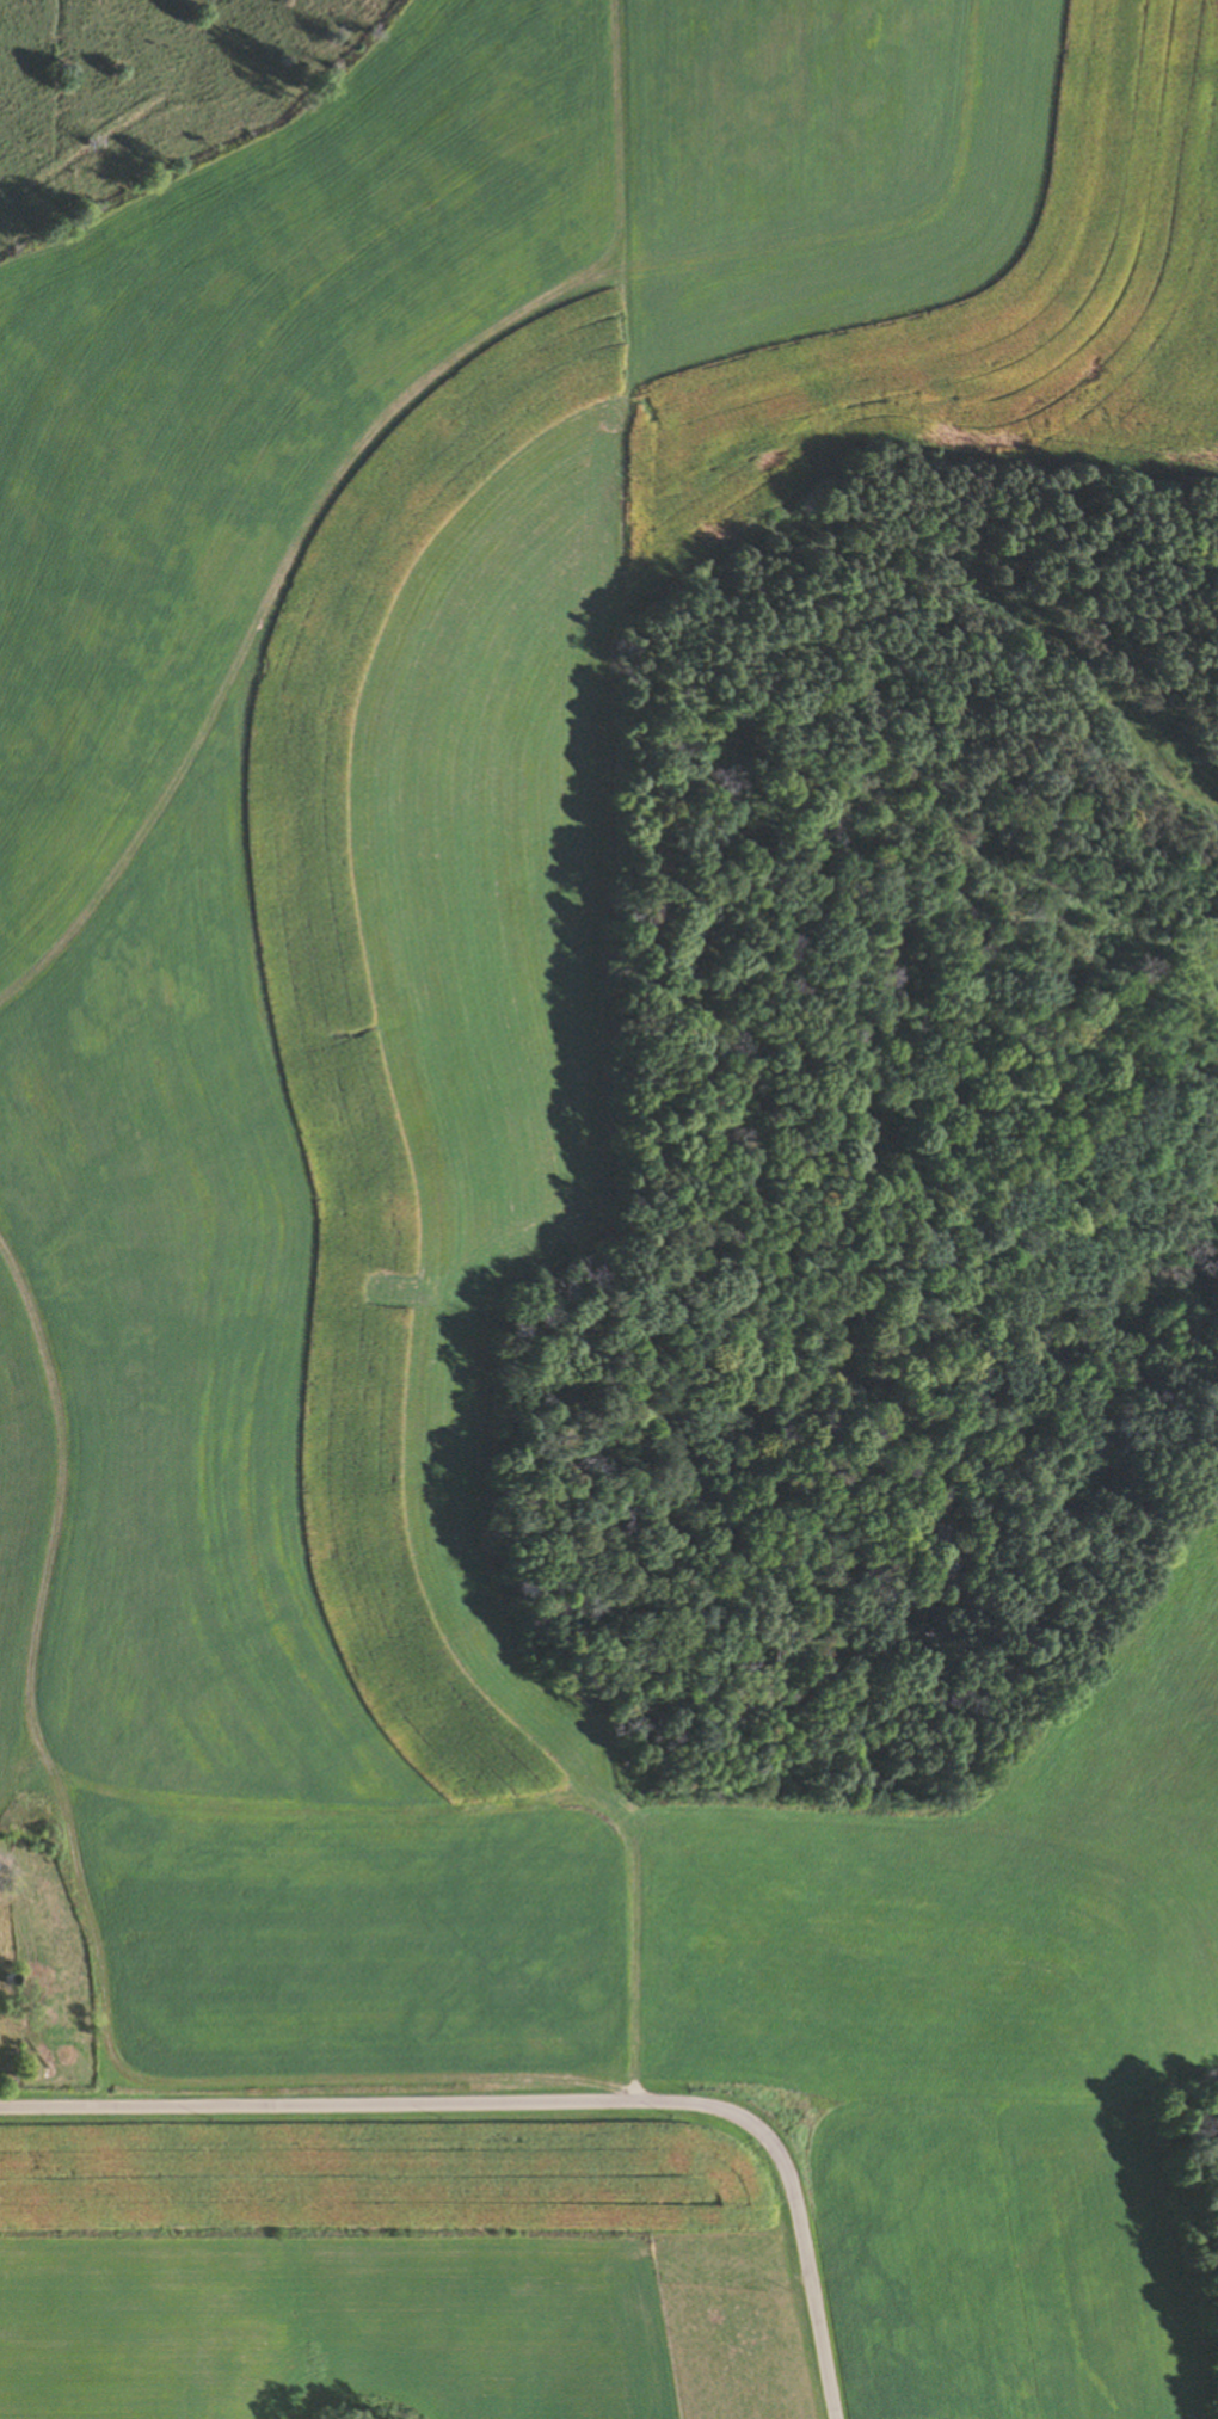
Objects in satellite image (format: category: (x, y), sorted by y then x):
crop: (250, 393)
crop: (20, 1506)
road: (531, 2098)
crop: (402, 2263)

